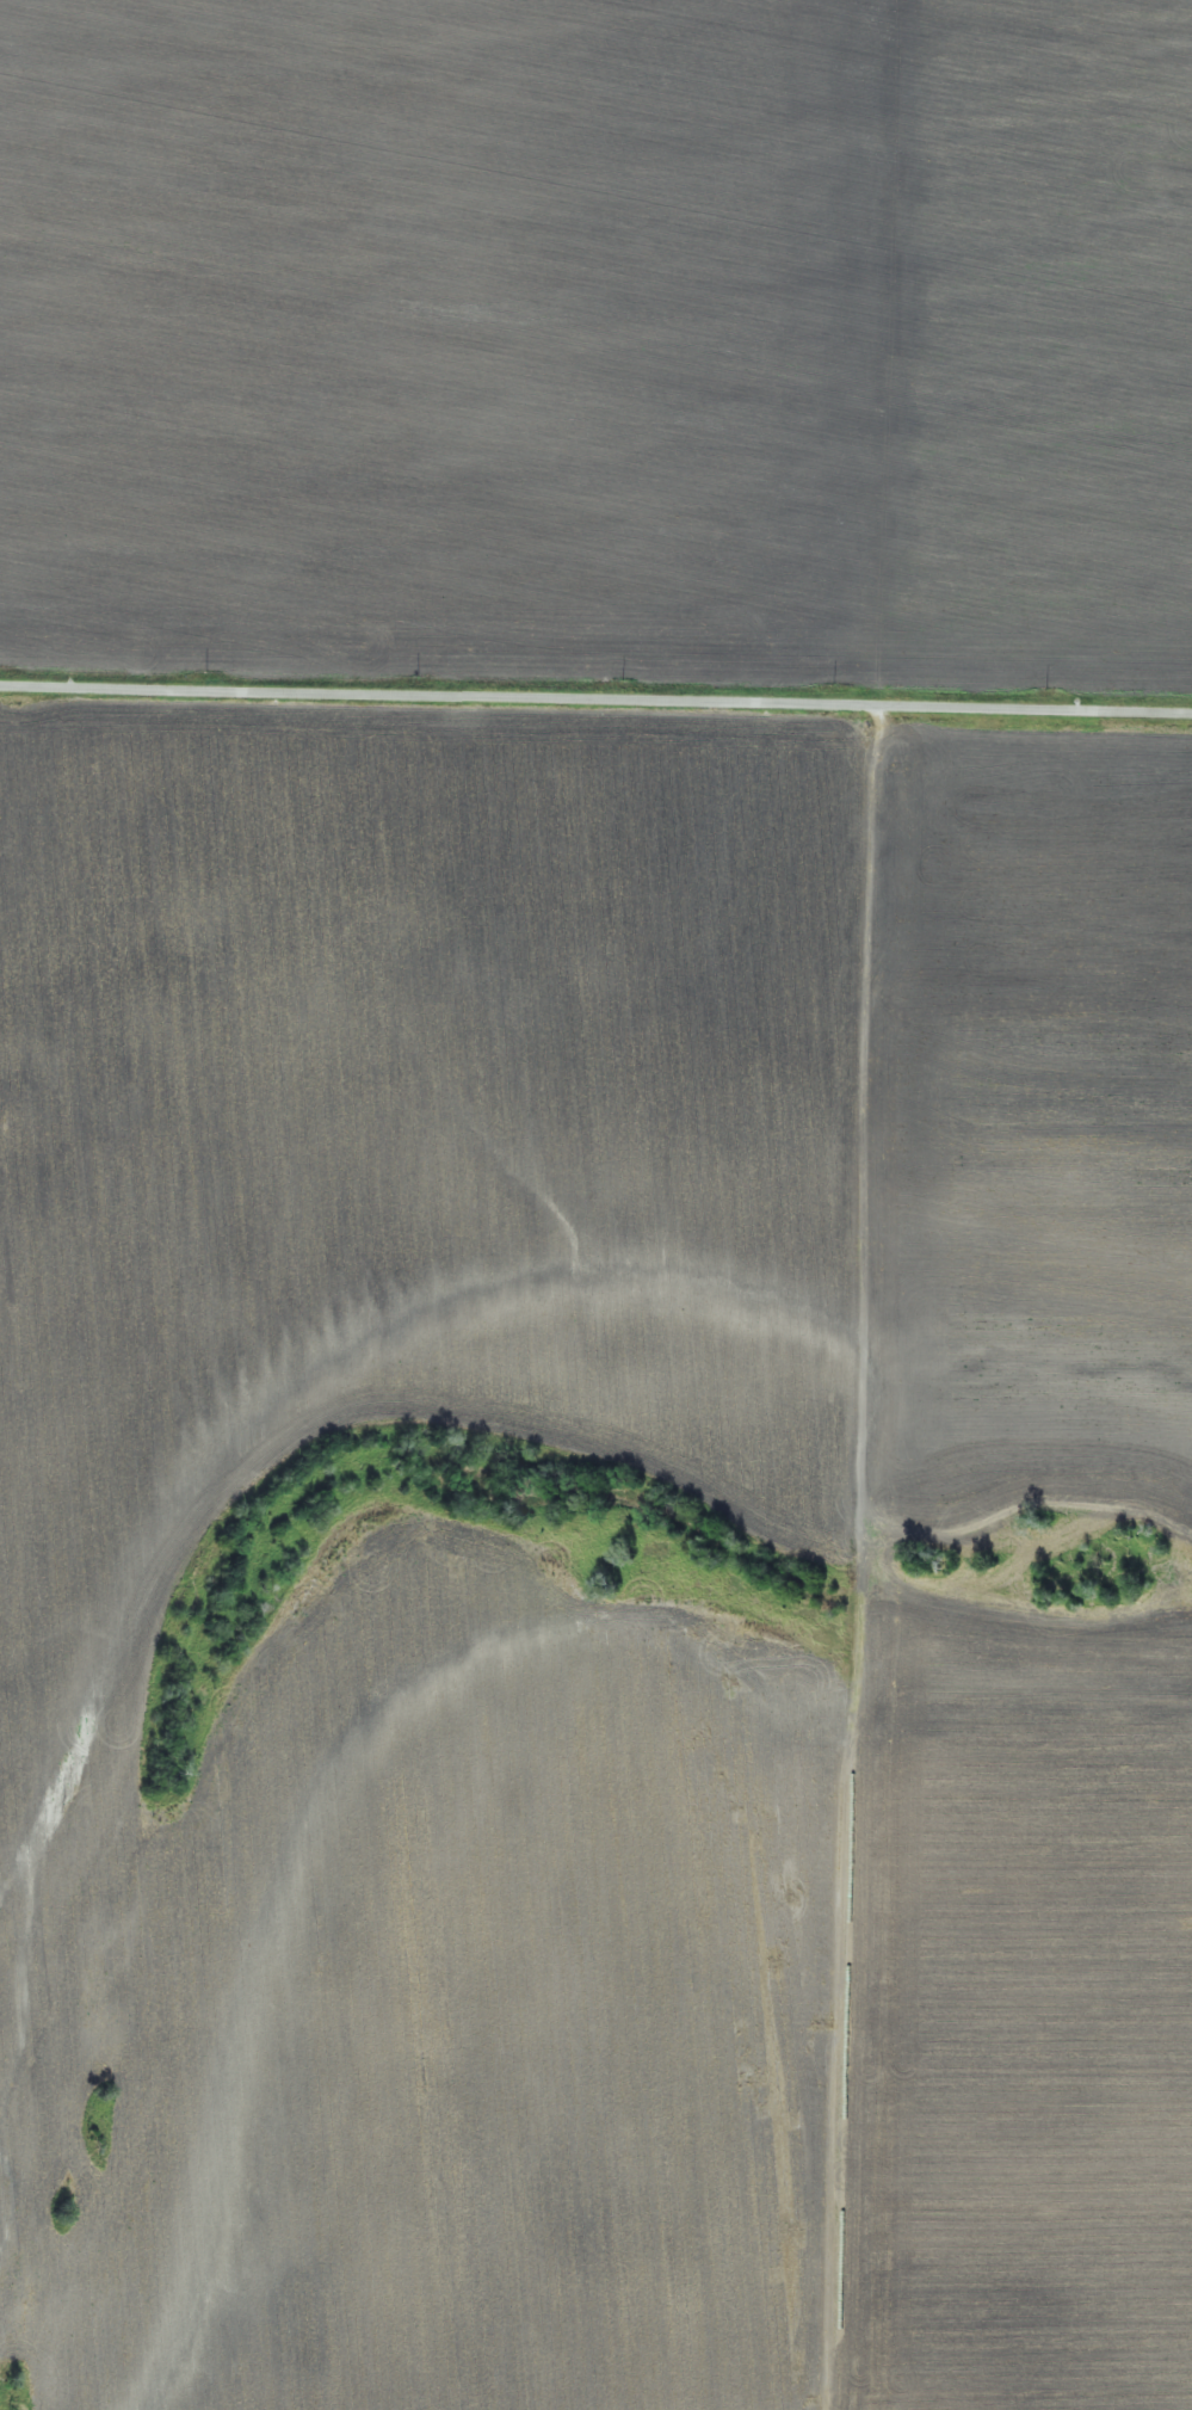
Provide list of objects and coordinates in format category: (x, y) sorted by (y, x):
road: (595, 697)

